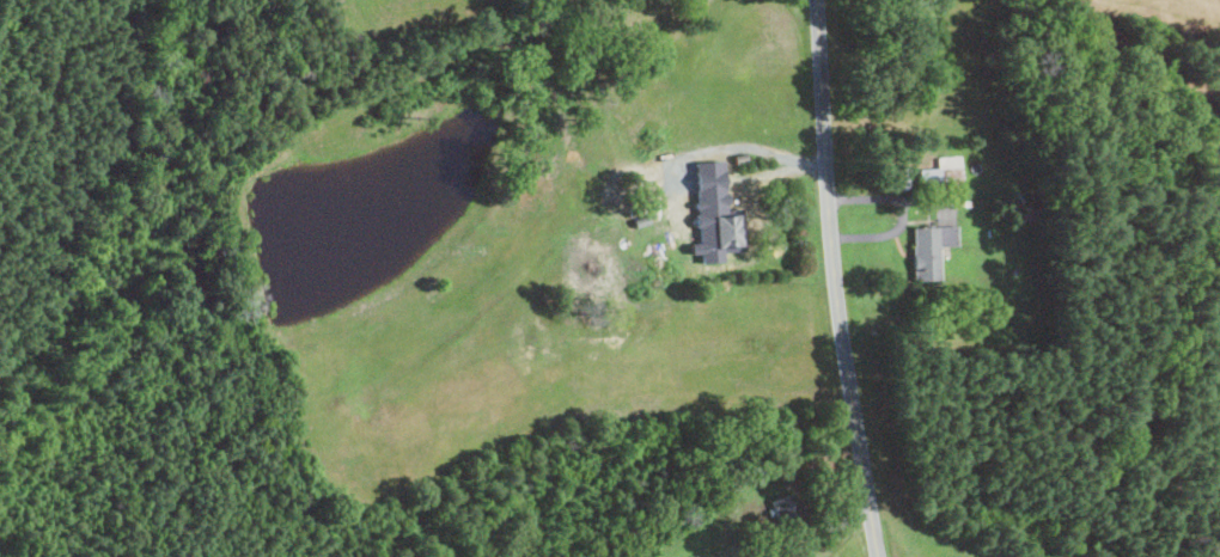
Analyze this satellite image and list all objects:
road: (762, 172)
building: (943, 172)
road: (901, 213)
building: (724, 231)
building: (931, 249)
road: (834, 280)
building: (787, 509)
road: (828, 528)

